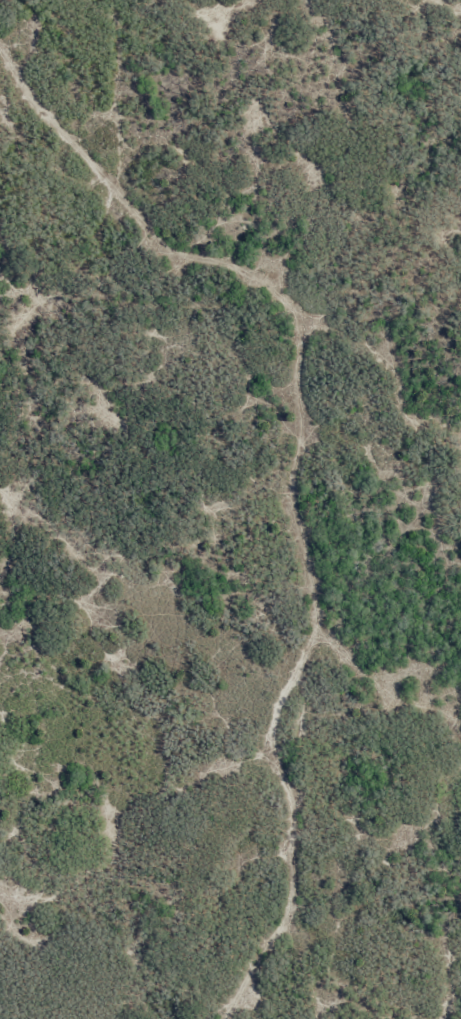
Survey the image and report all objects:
road: (266, 521)

